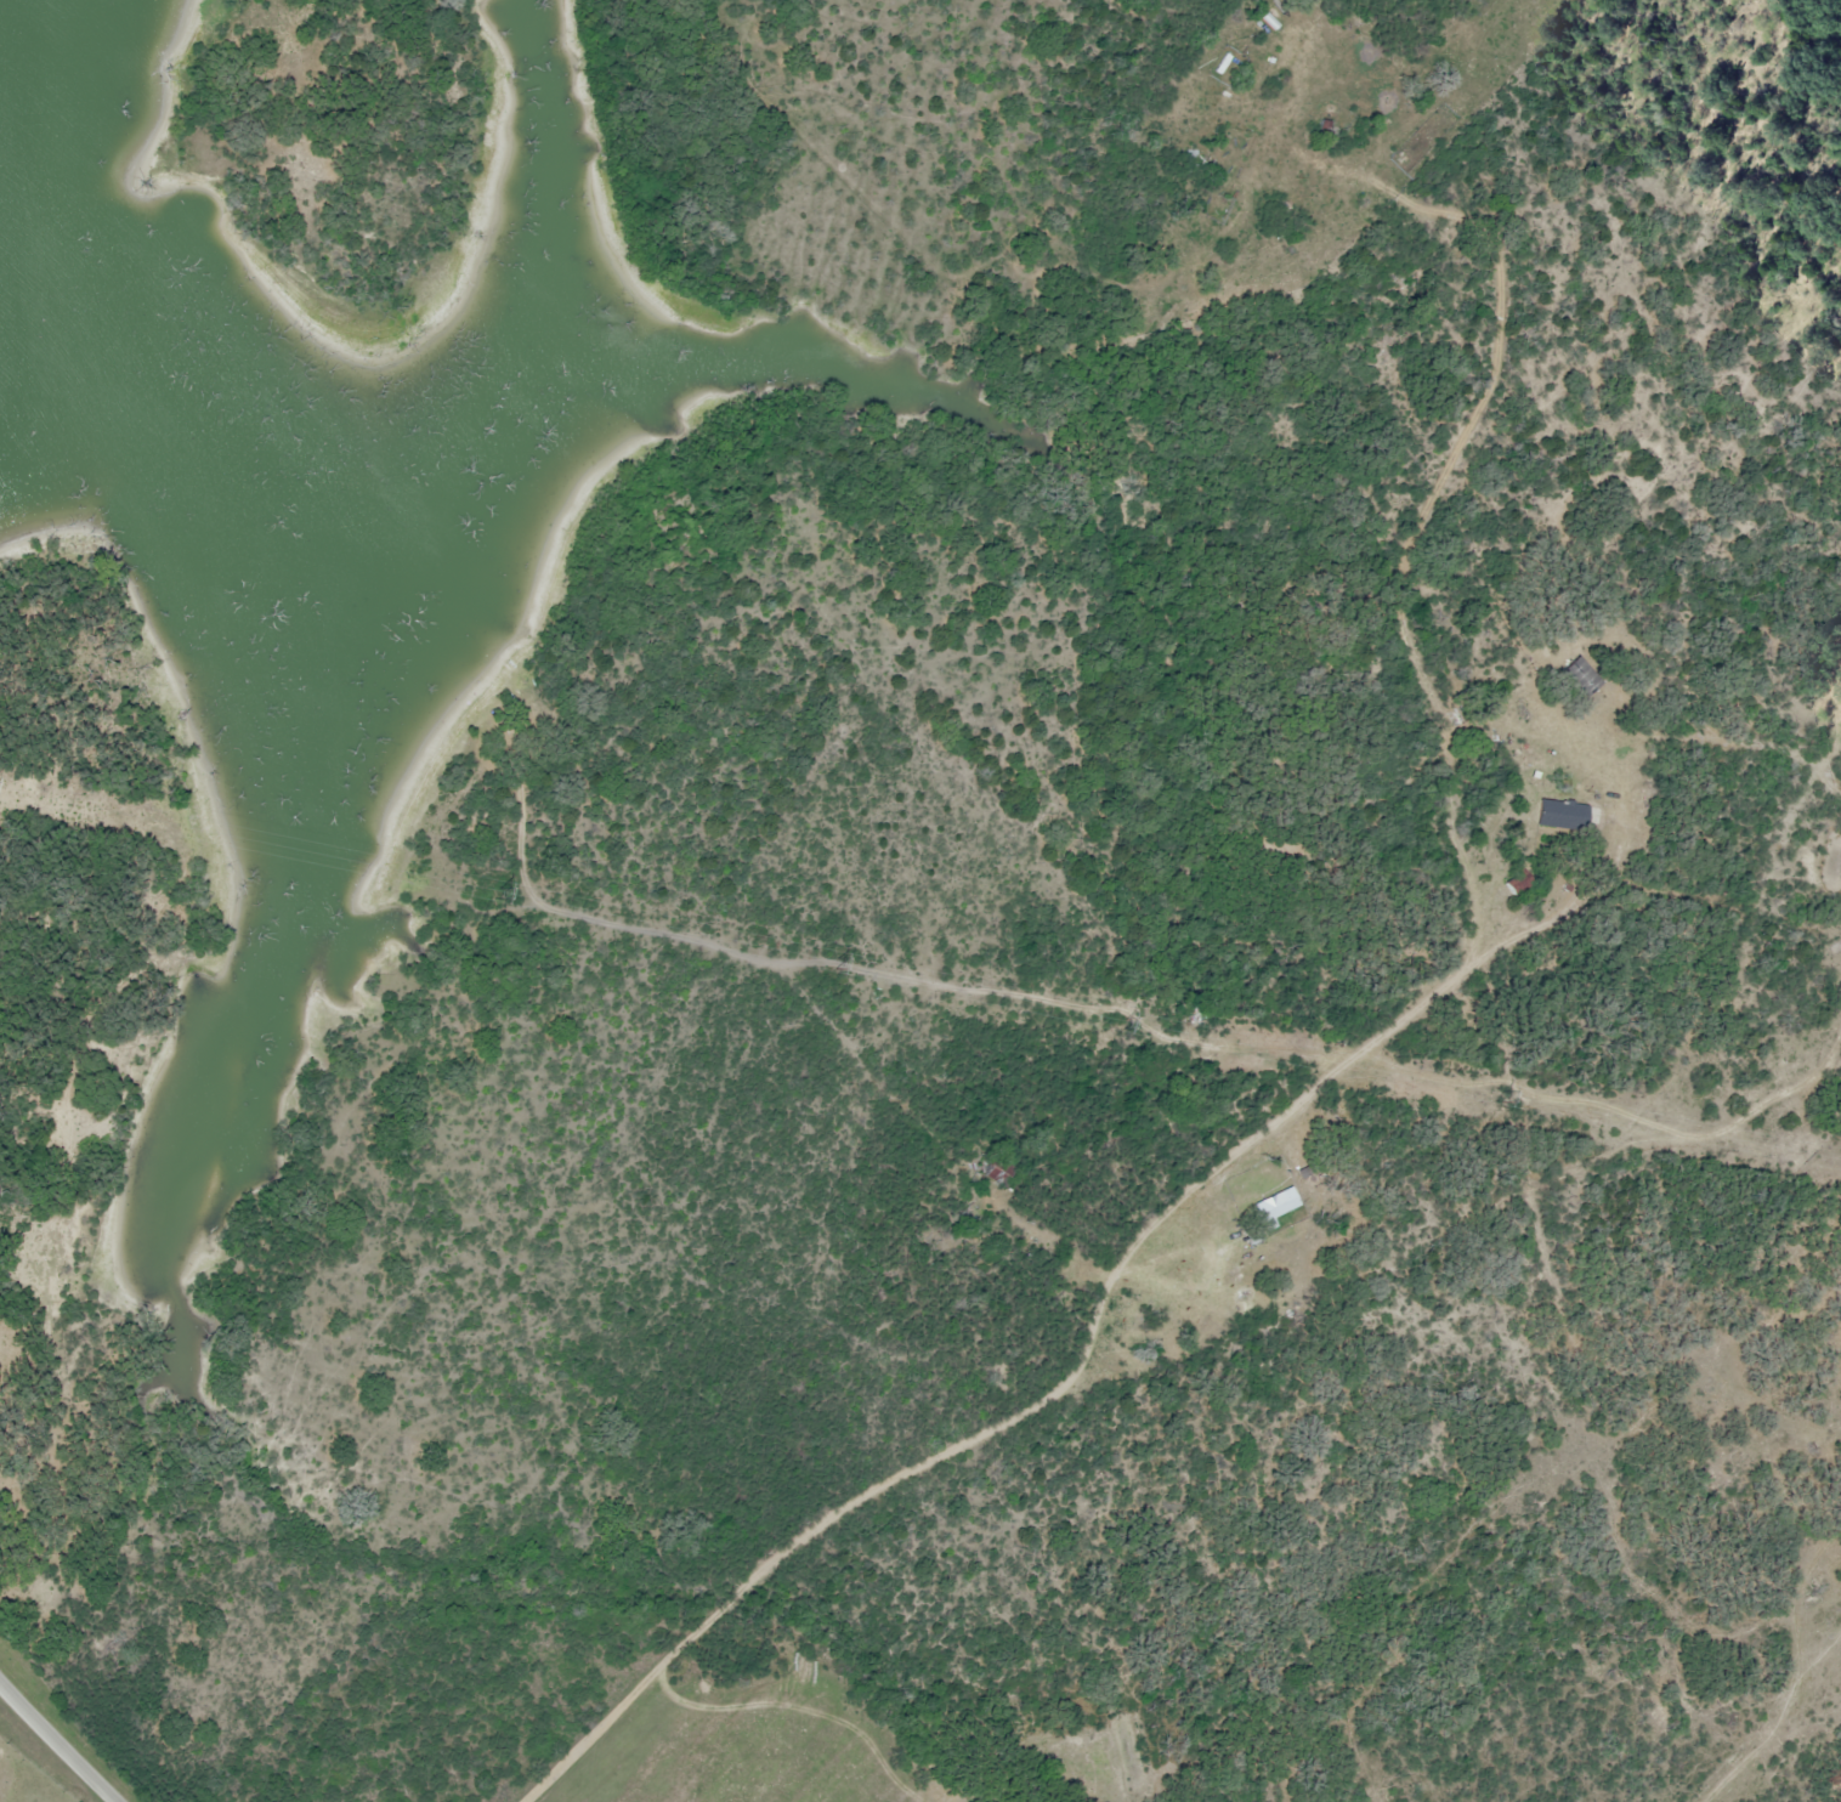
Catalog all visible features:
building: (1270, 21)
building: (1579, 674)
building: (1558, 814)
power tower: (470, 892)
power tower: (835, 960)
road: (816, 1009)
power tower: (1118, 1024)
power tower: (1502, 1096)
building: (998, 1172)
building: (1276, 1205)
road: (1094, 1339)
road: (60, 1744)

